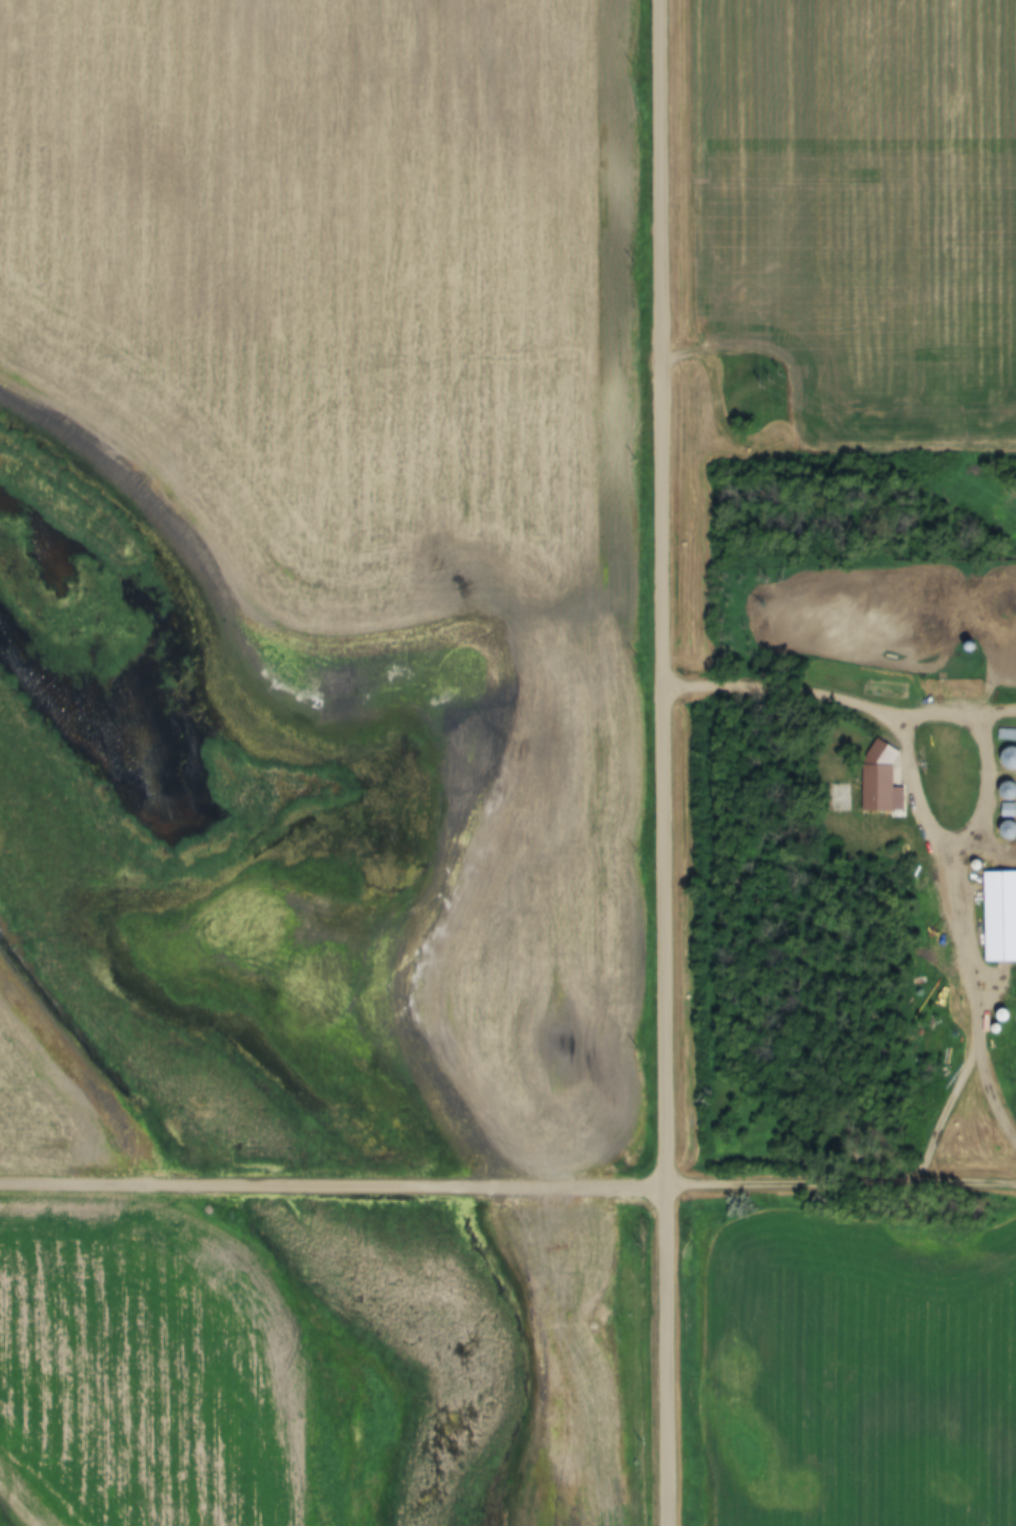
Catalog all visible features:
power tower: (771, 379)
building: (1007, 734)
road: (983, 747)
building: (1011, 758)
road: (666, 763)
building: (880, 777)
building: (1010, 790)
building: (836, 798)
road: (927, 808)
building: (1010, 829)
building: (1000, 916)
road: (842, 1181)
road: (333, 1185)

